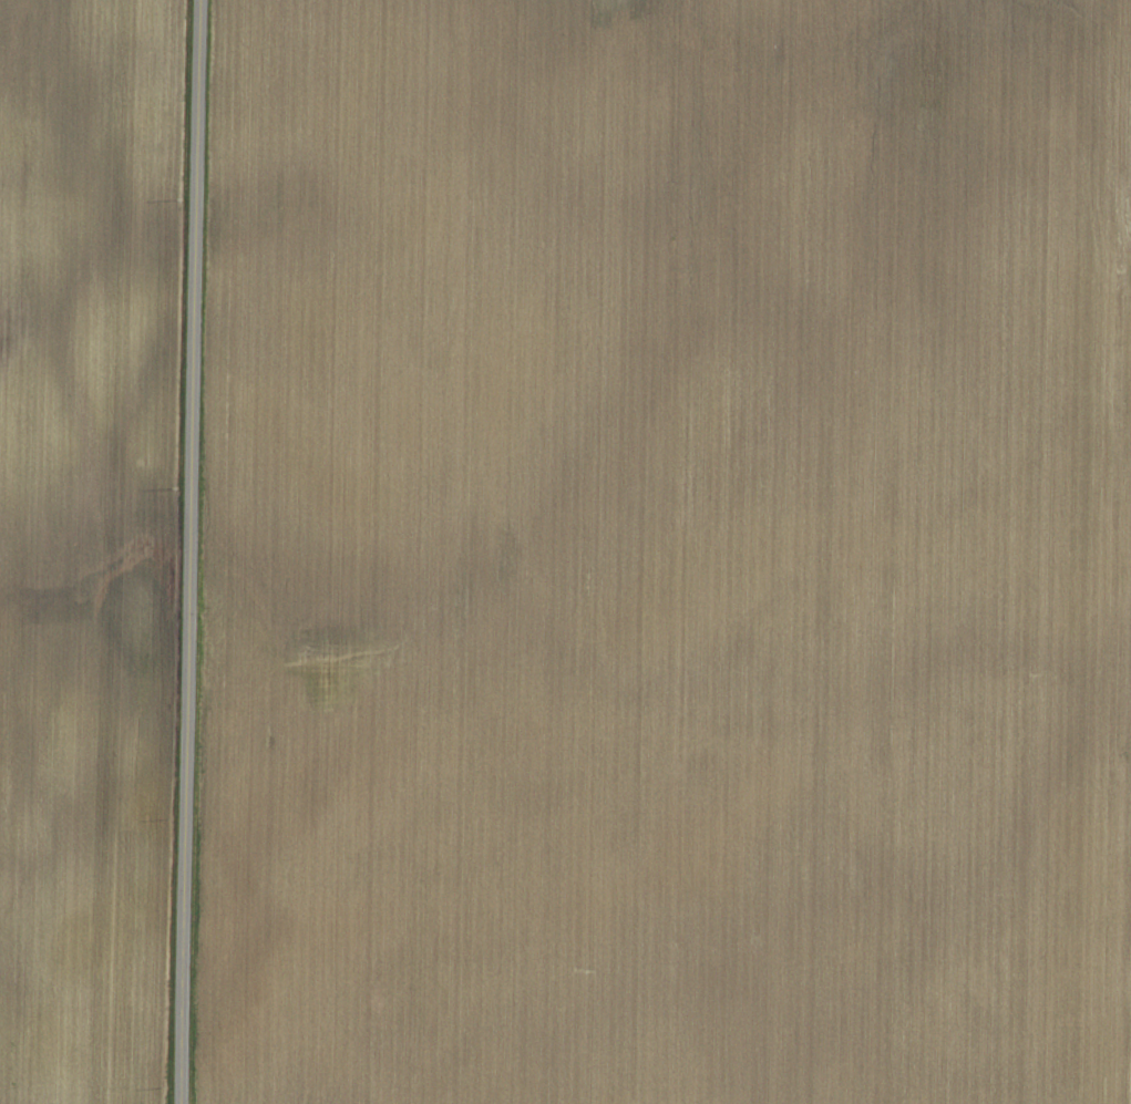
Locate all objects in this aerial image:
road: (187, 551)

